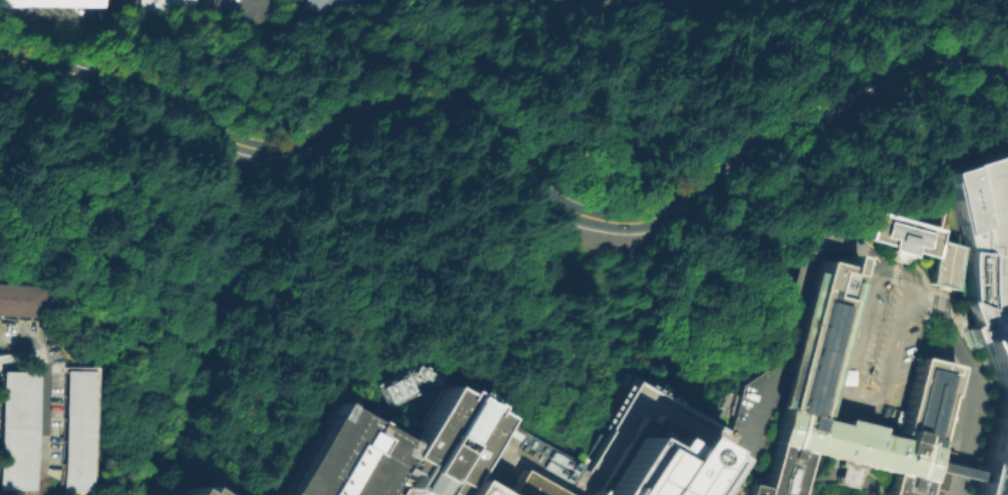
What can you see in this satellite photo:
building: (53, 2)
building: (322, 4)
building: (347, 4)
building: (153, 7)
road: (581, 11)
road: (245, 13)
road: (61, 29)
road: (517, 150)
building: (918, 239)
building: (23, 295)
building: (988, 301)
building: (876, 344)
parking lot: (876, 344)
road: (171, 358)
road: (850, 365)
building: (806, 377)
road: (970, 385)
building: (397, 388)
building: (18, 428)
road: (43, 428)
building: (82, 431)
road: (738, 443)
building: (445, 444)
building: (347, 456)
building: (660, 467)
road: (948, 468)
road: (842, 476)
road: (719, 479)
road: (819, 480)
road: (739, 482)
road: (862, 484)
building: (530, 486)
building: (471, 489)
building: (203, 491)
building: (262, 493)

